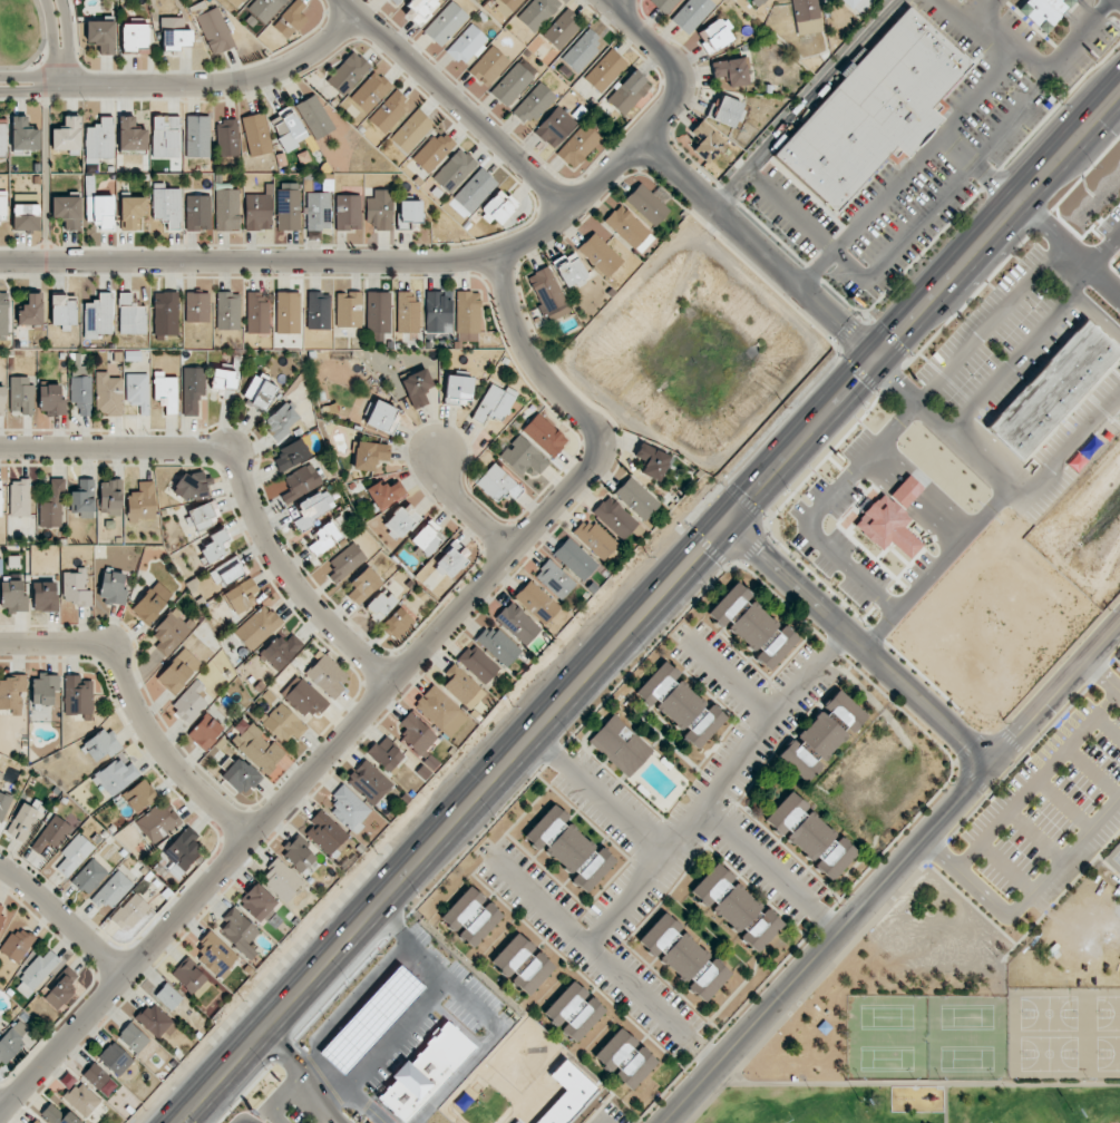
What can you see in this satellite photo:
building: (955, 0)
building: (958, 0)
building: (393, 1)
road: (614, 1)
building: (235, 2)
building: (758, 2)
building: (510, 3)
building: (664, 4)
building: (858, 4)
building: (265, 8)
building: (419, 10)
building: (1042, 11)
building: (537, 12)
road: (975, 12)
building: (692, 13)
building: (807, 16)
building: (291, 19)
building: (445, 23)
road: (53, 28)
road: (64, 28)
building: (563, 29)
building: (214, 31)
road: (971, 31)
park: (22, 35)
building: (101, 36)
building: (714, 36)
building: (135, 37)
building: (176, 38)
building: (466, 43)
road: (40, 47)
building: (582, 50)
road: (43, 58)
road: (1031, 61)
road: (674, 65)
building: (488, 66)
road: (61, 70)
building: (605, 70)
building: (732, 70)
building: (348, 74)
road: (22, 78)
building: (512, 84)
road: (213, 85)
road: (21, 89)
building: (370, 91)
building: (629, 92)
road: (458, 102)
building: (534, 102)
road: (806, 102)
power tower: (1061, 105)
building: (871, 110)
building: (390, 111)
building: (729, 111)
building: (314, 117)
building: (555, 127)
building: (288, 128)
building: (411, 130)
building: (23, 134)
building: (256, 134)
building: (132, 135)
building: (68, 136)
building: (197, 136)
building: (2, 137)
building: (165, 137)
building: (227, 138)
building: (99, 140)
building: (707, 141)
road: (993, 141)
building: (578, 145)
building: (434, 152)
road: (1100, 153)
road: (43, 154)
road: (908, 168)
building: (454, 170)
road: (976, 170)
building: (475, 189)
building: (646, 204)
building: (167, 205)
building: (2, 206)
building: (289, 206)
building: (498, 207)
building: (100, 209)
building: (380, 209)
building: (67, 211)
building: (259, 211)
building: (318, 211)
building: (132, 212)
building: (348, 212)
building: (197, 213)
building: (410, 214)
building: (26, 217)
road: (806, 222)
building: (629, 228)
road: (757, 247)
building: (600, 254)
power tower: (919, 262)
road: (342, 265)
building: (571, 270)
road: (1017, 290)
building: (548, 293)
road: (1081, 299)
building: (197, 306)
road: (922, 307)
building: (31, 310)
building: (319, 310)
building: (349, 310)
building: (62, 311)
building: (227, 311)
building: (257, 312)
building: (288, 312)
building: (3, 313)
building: (165, 313)
building: (407, 313)
building: (438, 313)
building: (378, 314)
building: (130, 315)
building: (98, 316)
building: (467, 316)
traffic signals: (877, 358)
road: (533, 362)
road: (1012, 362)
building: (417, 388)
building: (192, 389)
building: (458, 389)
building: (1053, 389)
building: (138, 391)
building: (165, 391)
building: (260, 392)
building: (81, 393)
building: (108, 393)
building: (21, 394)
building: (50, 400)
building: (494, 403)
power tower: (783, 408)
building: (381, 417)
building: (280, 421)
building: (545, 434)
building: (291, 455)
building: (369, 455)
building: (524, 457)
building: (653, 461)
road: (243, 473)
road: (1001, 478)
building: (299, 481)
building: (498, 484)
building: (193, 486)
building: (906, 491)
building: (386, 494)
building: (110, 497)
building: (0, 498)
building: (19, 498)
building: (82, 498)
building: (636, 498)
building: (142, 502)
building: (52, 506)
building: (313, 508)
road: (466, 511)
building: (201, 516)
building: (615, 517)
building: (401, 520)
traffic signals: (727, 527)
building: (887, 527)
building: (323, 538)
building: (428, 538)
building: (595, 538)
building: (216, 546)
power tower: (647, 556)
building: (575, 558)
building: (450, 560)
building: (345, 561)
road: (500, 566)
building: (227, 572)
building: (555, 579)
building: (363, 585)
building: (76, 587)
building: (113, 587)
building: (12, 596)
building: (45, 596)
building: (241, 596)
building: (536, 602)
building: (152, 603)
building: (380, 604)
building: (729, 604)
building: (395, 622)
building: (518, 623)
building: (752, 625)
building: (257, 627)
building: (171, 632)
building: (498, 645)
road: (857, 646)
building: (777, 647)
building: (281, 651)
building: (477, 664)
building: (178, 671)
building: (327, 674)
road: (1102, 676)
building: (658, 684)
building: (462, 686)
road: (733, 686)
building: (45, 689)
building: (11, 693)
road: (1054, 694)
building: (78, 696)
building: (305, 699)
building: (189, 701)
building: (680, 704)
power tower: (512, 705)
road: (133, 707)
building: (440, 711)
building: (282, 722)
building: (704, 726)
road: (1107, 729)
building: (205, 731)
building: (416, 734)
building: (821, 735)
building: (100, 745)
building: (620, 745)
building: (257, 748)
building: (386, 753)
road: (318, 761)
road: (1092, 772)
building: (116, 777)
building: (241, 777)
road: (1036, 779)
building: (369, 782)
road: (603, 792)
road: (719, 792)
building: (139, 795)
building: (3, 804)
road: (1062, 804)
building: (348, 809)
building: (158, 821)
building: (22, 822)
road: (452, 824)
building: (799, 826)
building: (546, 827)
building: (325, 832)
building: (51, 836)
road: (1032, 836)
building: (571, 849)
building: (182, 851)
building: (299, 853)
power tower: (376, 853)
building: (74, 855)
road: (1063, 855)
park: (1113, 858)
building: (834, 859)
road: (1004, 867)
building: (593, 870)
road: (770, 873)
building: (89, 876)
road: (965, 876)
building: (281, 879)
building: (111, 890)
building: (725, 897)
building: (257, 902)
building: (130, 911)
building: (1, 916)
building: (471, 917)
road: (64, 919)
road: (392, 925)
building: (761, 930)
building: (237, 931)
building: (17, 944)
road: (828, 944)
building: (673, 947)
building: (215, 954)
building: (513, 954)
road: (602, 959)
building: (37, 973)
road: (386, 973)
building: (533, 974)
building: (189, 977)
road: (124, 978)
building: (709, 980)
road: (371, 987)
road: (401, 987)
building: (60, 988)
building: (168, 996)
power tower: (242, 999)
road: (387, 1002)
road: (417, 1002)
road: (357, 1003)
building: (574, 1010)
road: (402, 1016)
park: (948, 1017)
building: (0, 1018)
road: (343, 1018)
road: (372, 1018)
building: (155, 1021)
road: (498, 1028)
road: (396, 1031)
road: (359, 1033)
road: (388, 1033)
park: (1063, 1034)
road: (327, 1035)
building: (134, 1037)
park: (926, 1037)
building: (11, 1041)
road: (374, 1047)
road: (288, 1048)
road: (313, 1048)
road: (343, 1049)
building: (115, 1058)
building: (625, 1058)
road: (359, 1064)
building: (99, 1080)
road: (912, 1084)
road: (284, 1097)
building: (82, 1100)
road: (329, 1105)
road: (0, 1113)
building: (58, 1115)
building: (36, 1121)
road: (245, 1121)
building: (516, 1122)

